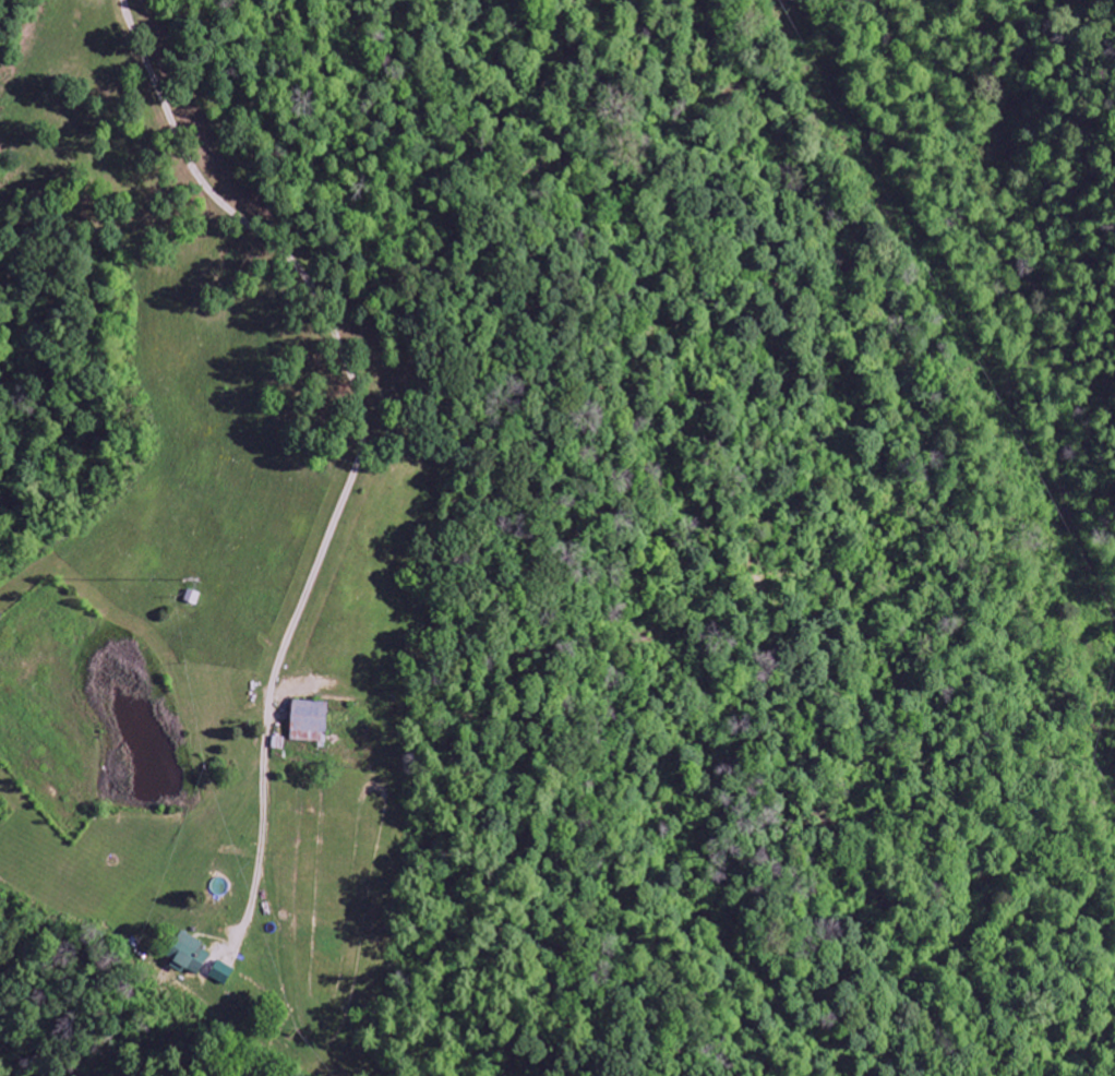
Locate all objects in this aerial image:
building: (310, 718)
building: (190, 956)

